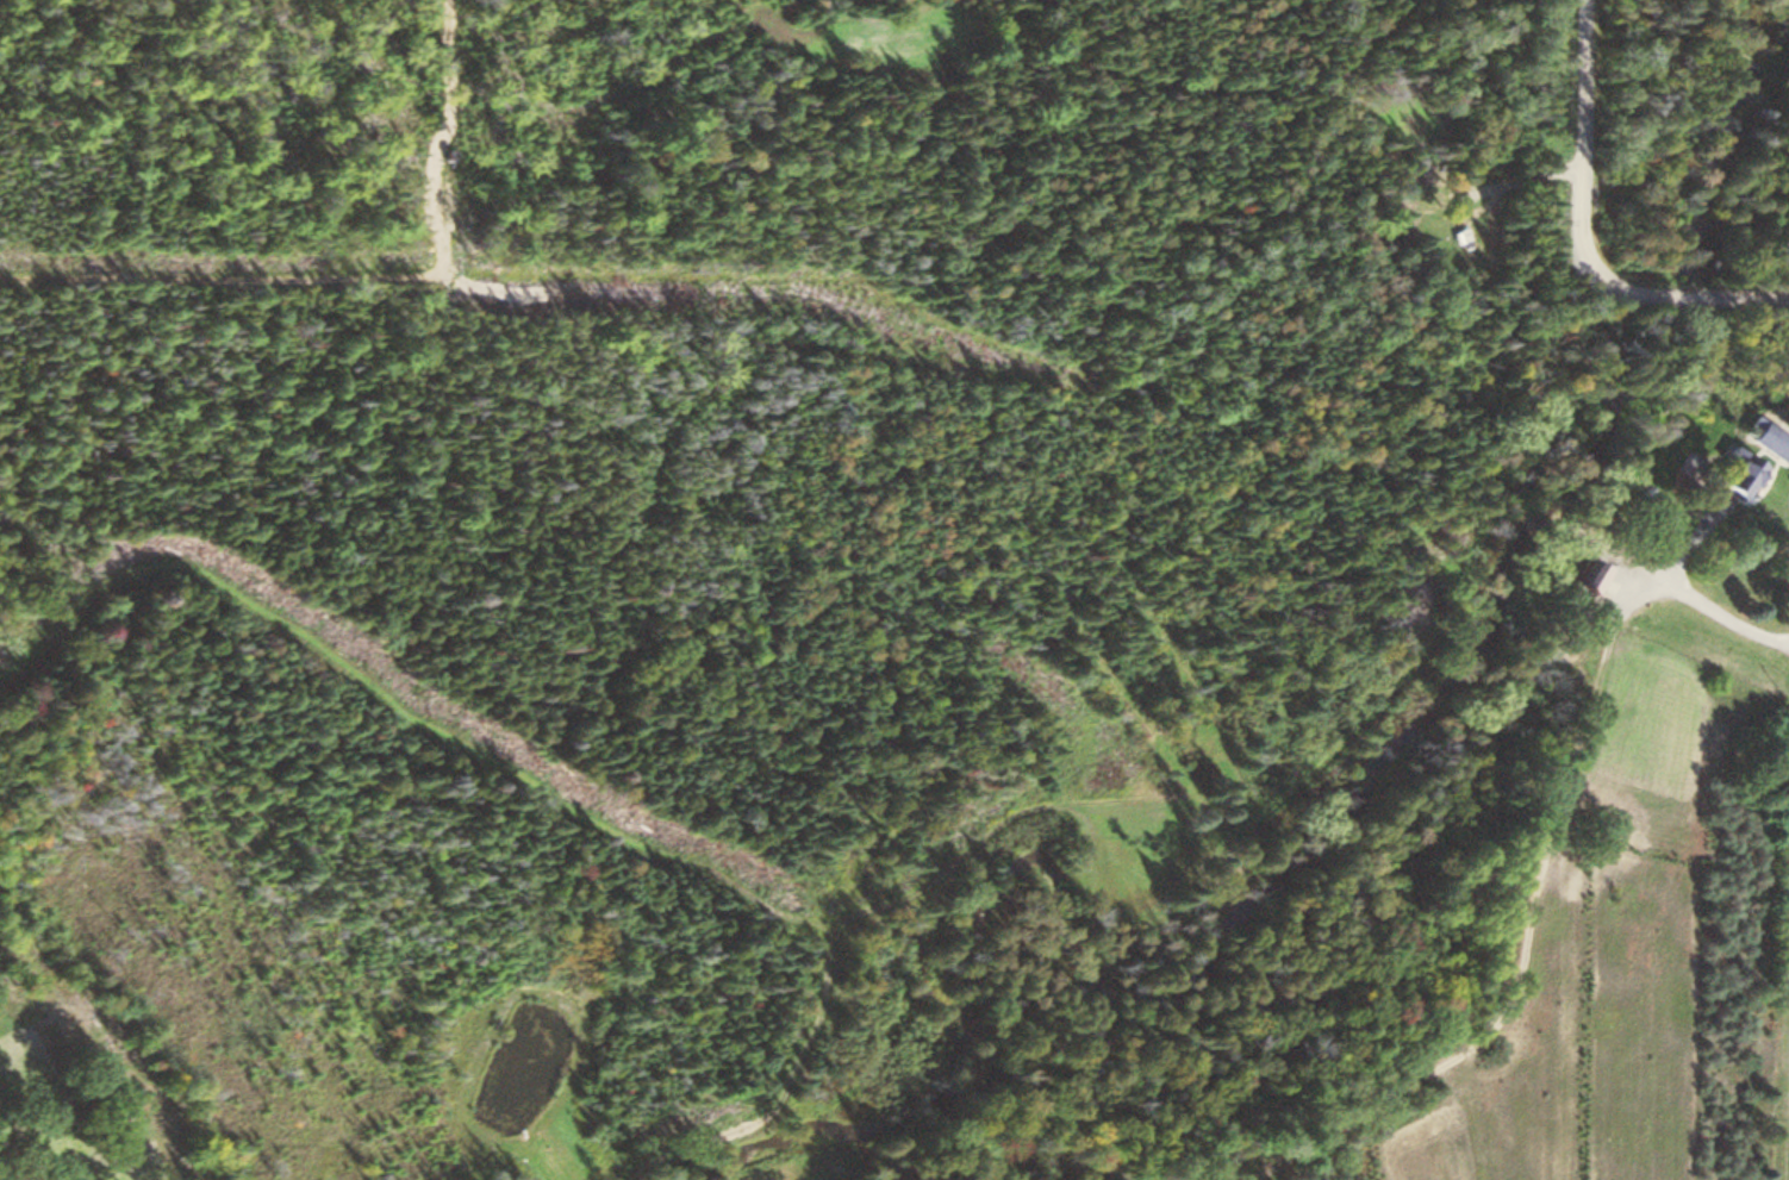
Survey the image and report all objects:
road: (1587, 238)
building: (1763, 439)
building: (1731, 470)
building: (1579, 574)
road: (1696, 601)
road: (1516, 963)

